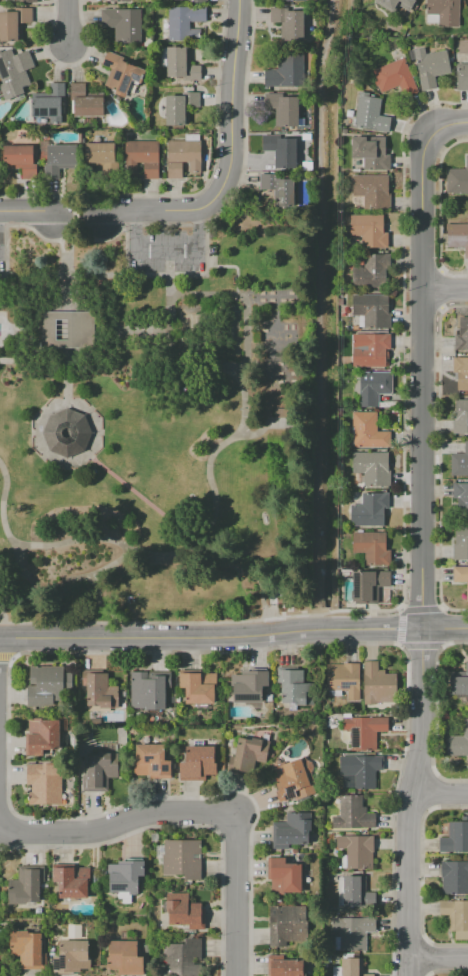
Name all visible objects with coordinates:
building: (3, 0)
building: (178, 0)
building: (296, 0)
building: (19, 1)
building: (120, 1)
building: (467, 4)
building: (396, 6)
building: (442, 13)
building: (288, 22)
building: (13, 23)
building: (122, 23)
building: (184, 23)
road: (68, 24)
building: (181, 64)
building: (432, 67)
building: (286, 71)
building: (15, 72)
building: (122, 73)
building: (462, 76)
building: (395, 77)
road: (234, 86)
building: (85, 102)
building: (50, 104)
building: (179, 107)
building: (283, 109)
building: (369, 114)
road: (451, 130)
building: (281, 150)
building: (371, 152)
building: (100, 153)
building: (183, 155)
building: (142, 157)
building: (20, 159)
building: (59, 159)
building: (457, 179)
building: (278, 188)
building: (372, 190)
road: (175, 211)
road: (28, 213)
building: (369, 230)
road: (85, 231)
building: (458, 236)
parking lot: (1, 251)
parking lot: (166, 251)
road: (166, 252)
building: (371, 271)
road: (69, 273)
road: (447, 293)
road: (176, 297)
road: (172, 306)
building: (372, 310)
building: (66, 329)
road: (48, 331)
road: (242, 331)
road: (142, 332)
building: (462, 335)
road: (113, 342)
building: (371, 351)
road: (53, 360)
road: (227, 369)
building: (461, 372)
road: (424, 380)
building: (374, 387)
road: (43, 410)
building: (461, 416)
park: (154, 424)
building: (368, 431)
building: (66, 432)
building: (460, 462)
building: (373, 467)
building: (461, 497)
building: (370, 509)
road: (192, 536)
road: (100, 539)
building: (461, 542)
building: (372, 547)
building: (461, 576)
building: (368, 585)
road: (11, 590)
road: (234, 637)
building: (344, 678)
building: (459, 682)
building: (377, 684)
building: (45, 686)
building: (249, 686)
building: (298, 686)
building: (198, 687)
building: (147, 690)
building: (101, 691)
building: (364, 731)
building: (42, 738)
building: (458, 742)
building: (250, 757)
building: (151, 761)
building: (197, 763)
building: (360, 771)
building: (98, 772)
building: (292, 777)
building: (44, 783)
road: (439, 792)
road: (410, 801)
road: (195, 810)
building: (352, 813)
building: (290, 831)
building: (455, 837)
building: (357, 850)
building: (182, 858)
building: (125, 876)
building: (283, 876)
building: (455, 877)
building: (72, 882)
building: (26, 885)
building: (353, 891)
building: (184, 911)
building: (455, 914)
building: (288, 926)
building: (354, 932)
building: (28, 949)
building: (72, 956)
building: (183, 957)
building: (125, 958)
road: (438, 959)
building: (284, 966)
building: (352, 967)

